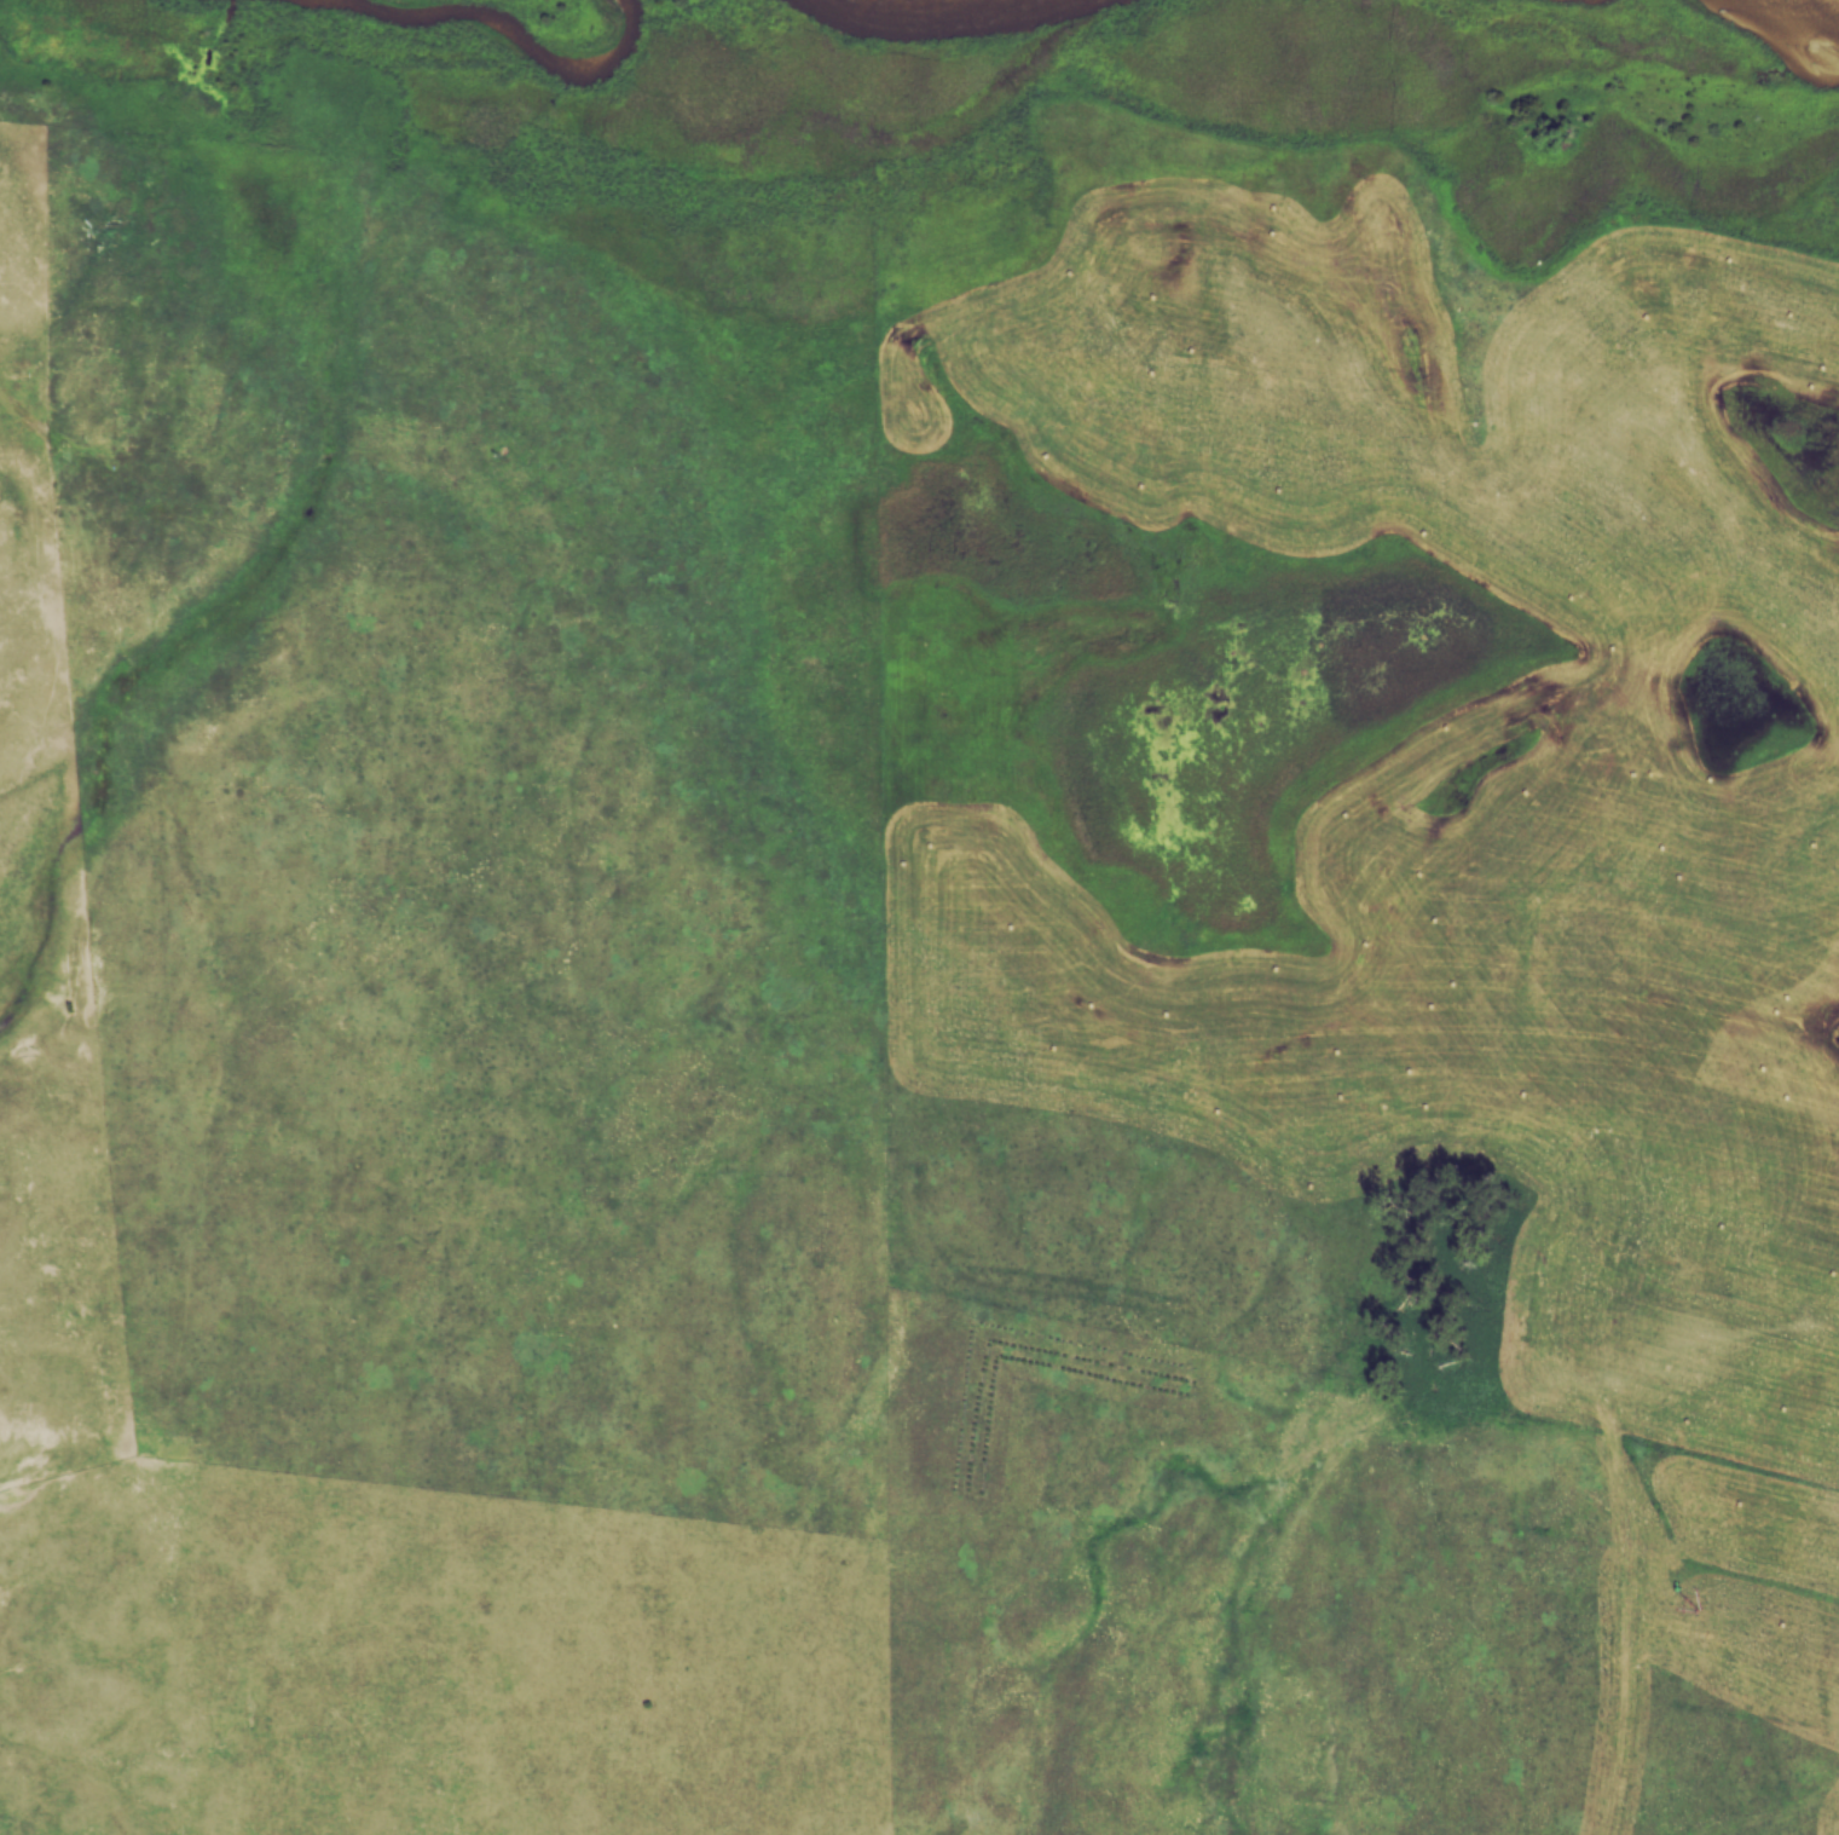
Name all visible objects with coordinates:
building: (1543, 859)
building: (1442, 907)

